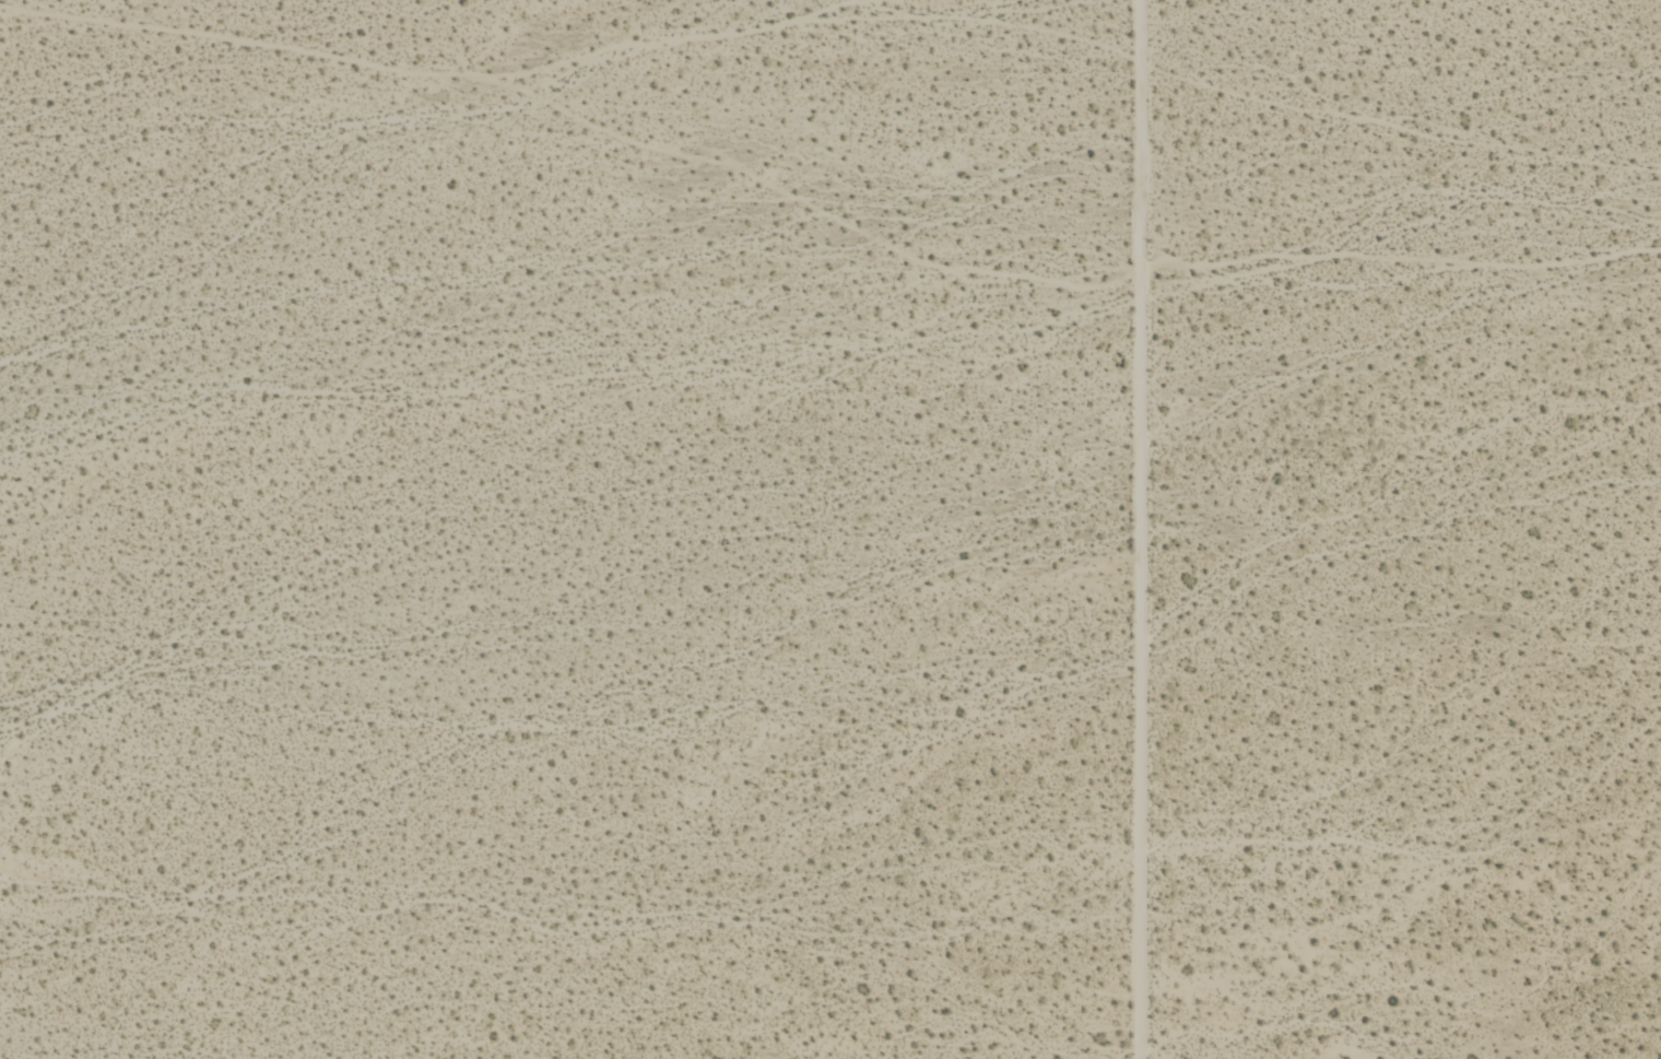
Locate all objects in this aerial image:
road: (1150, 529)

